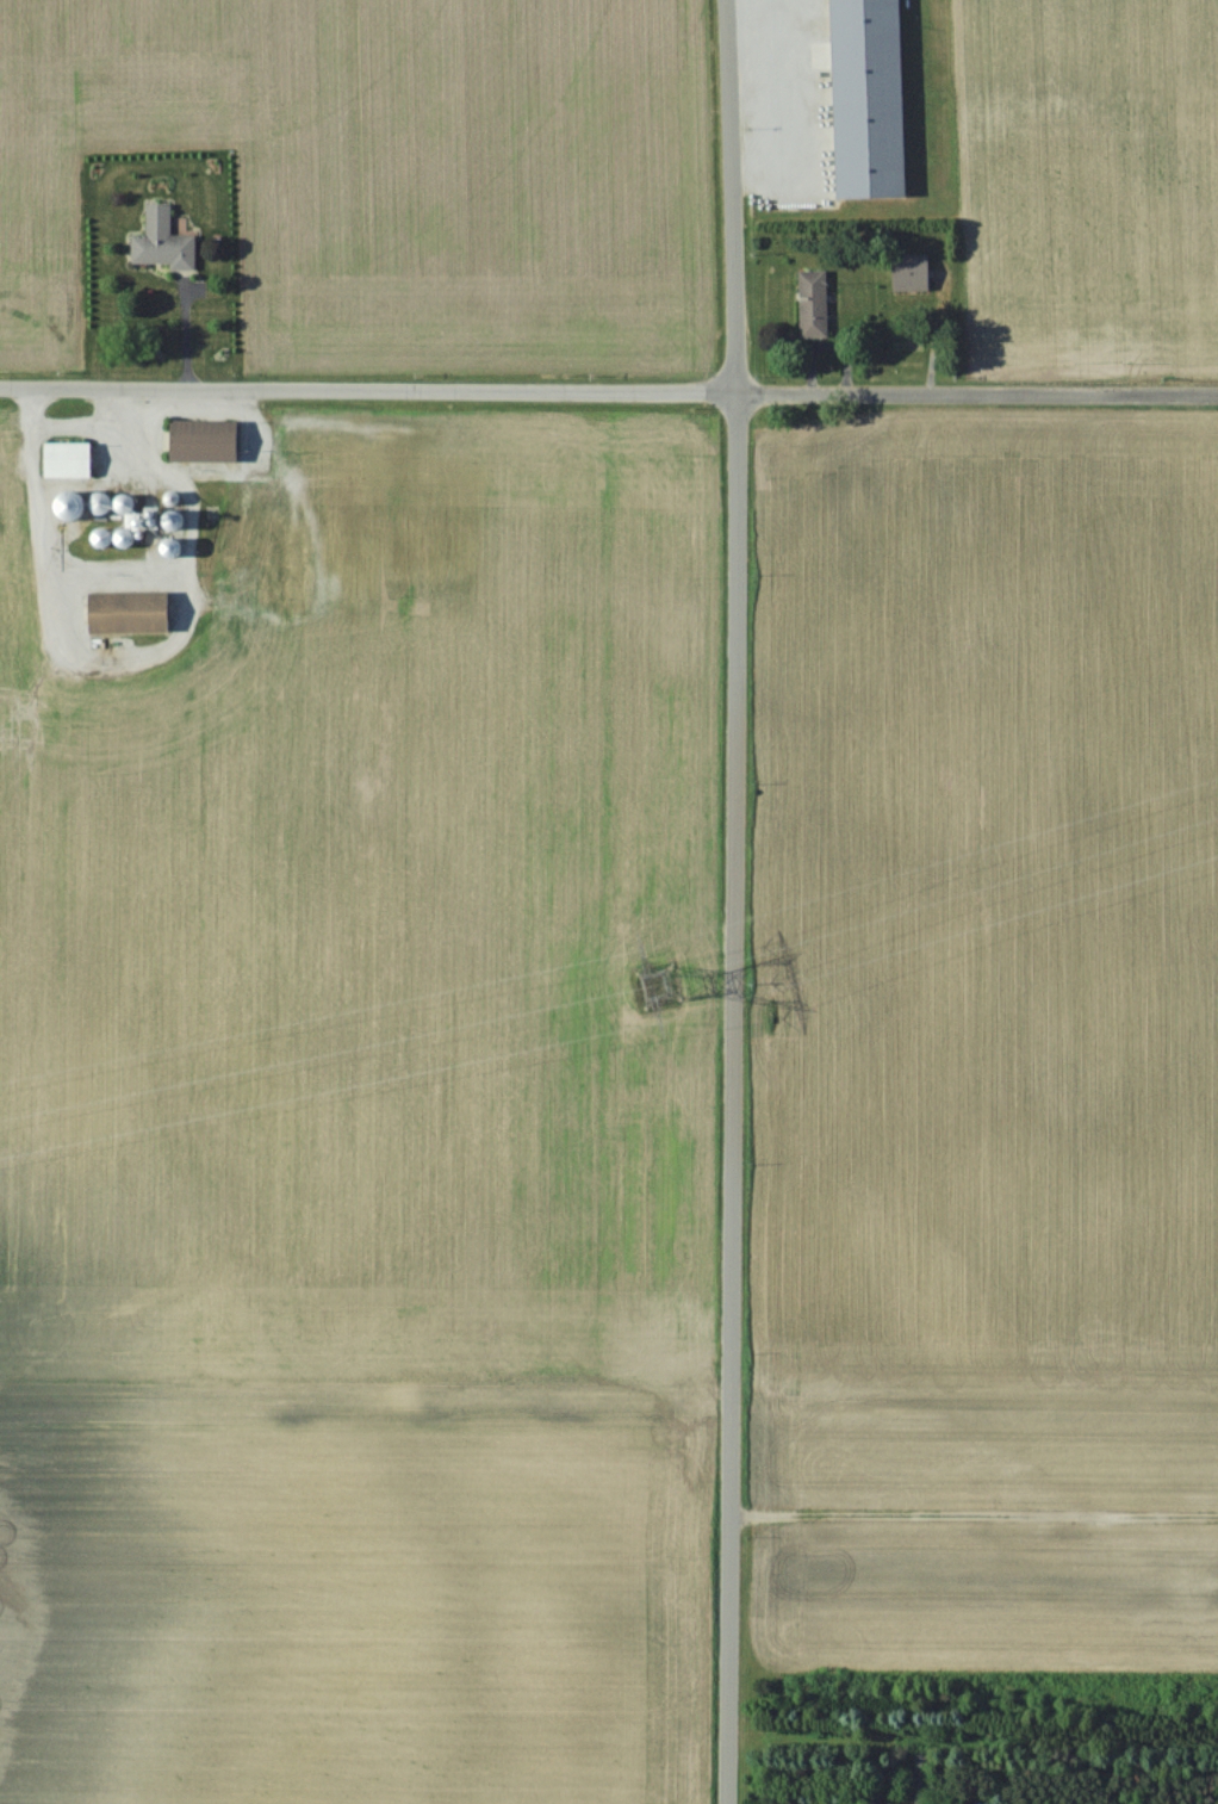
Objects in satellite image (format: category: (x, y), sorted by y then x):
building: (161, 240)
building: (911, 272)
building: (813, 303)
road: (609, 384)
road: (82, 424)
building: (205, 440)
building: (68, 459)
road: (267, 464)
building: (72, 504)
building: (116, 504)
building: (175, 520)
building: (102, 538)
building: (125, 538)
building: (207, 546)
building: (272, 565)
building: (130, 612)
road: (137, 655)
road: (734, 901)
power tower: (653, 981)
road: (975, 1512)
building: (918, 1779)

